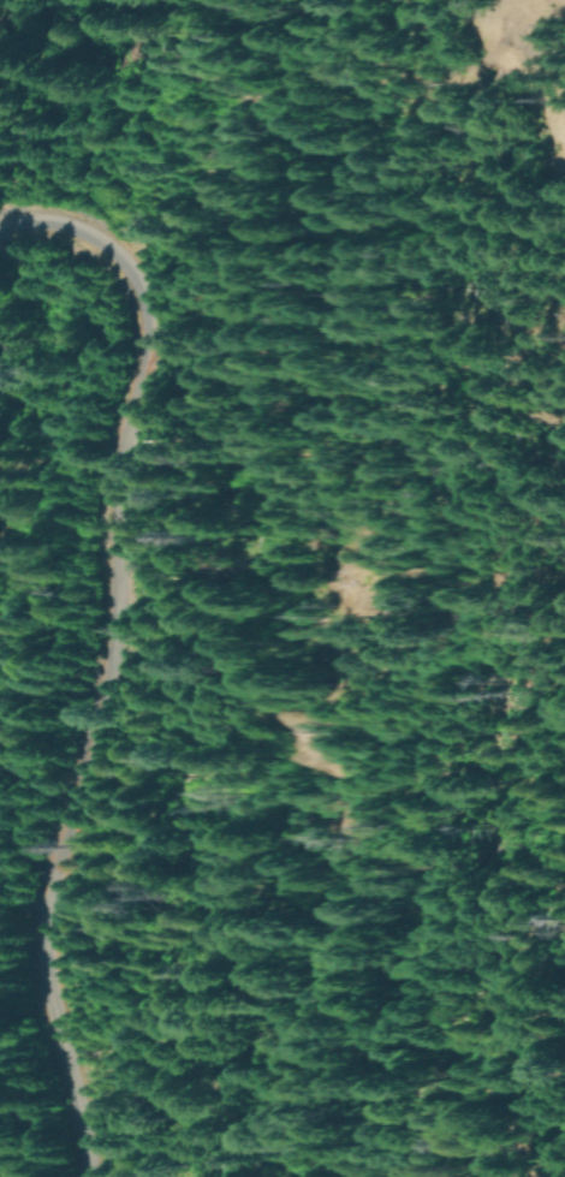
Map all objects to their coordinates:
road: (25, 111)
road: (421, 552)
road: (114, 643)

